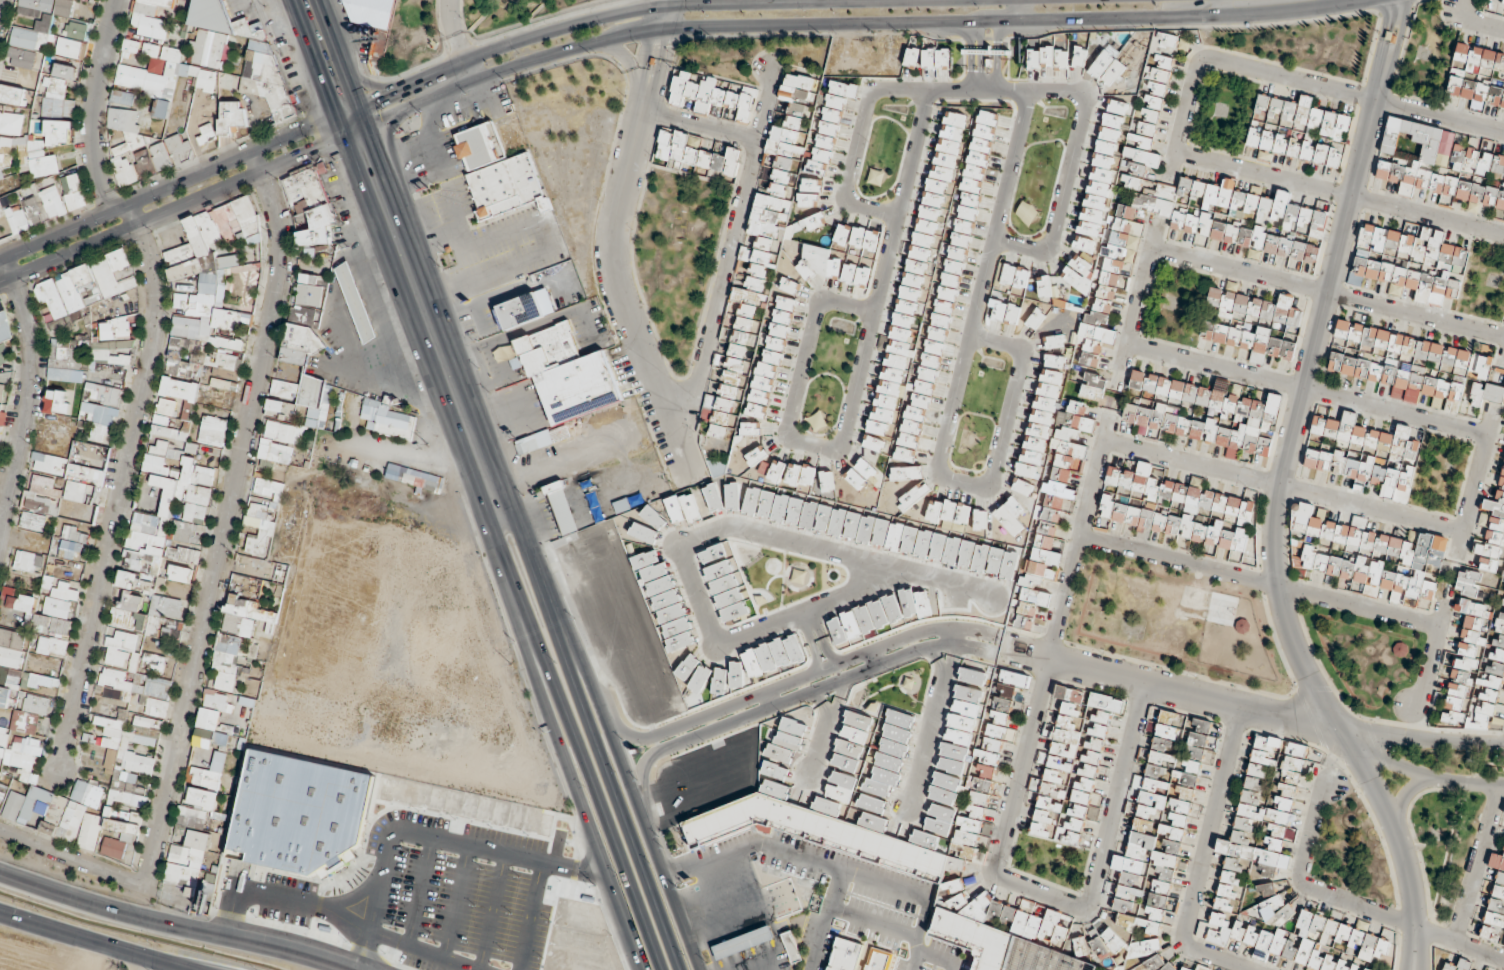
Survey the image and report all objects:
park: (507, 13)
park: (1305, 43)
park: (677, 259)

